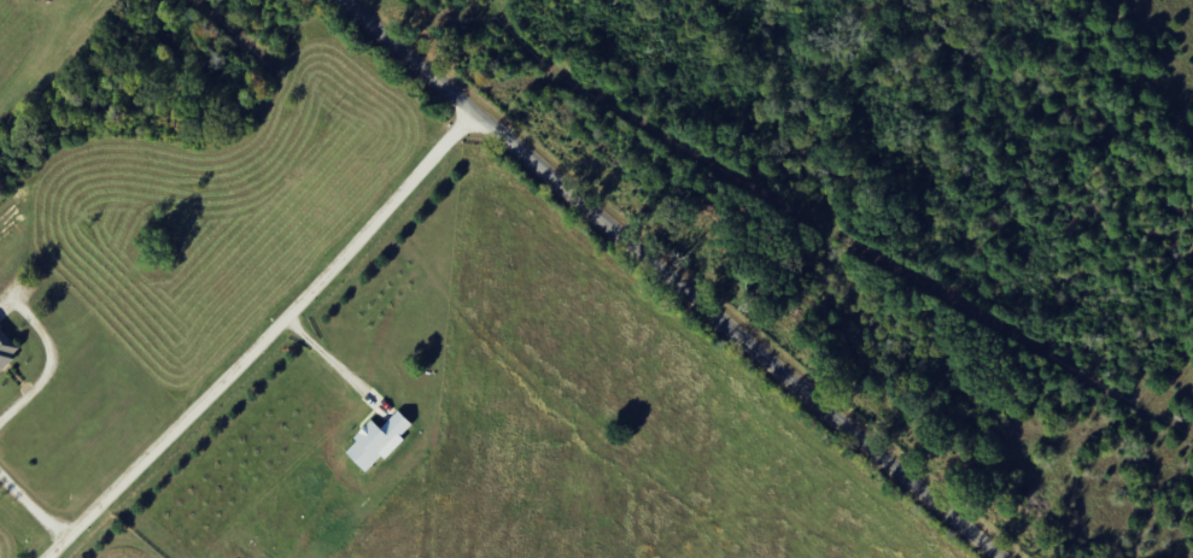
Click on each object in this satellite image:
road: (677, 281)
road: (268, 340)
building: (7, 350)
building: (379, 442)

